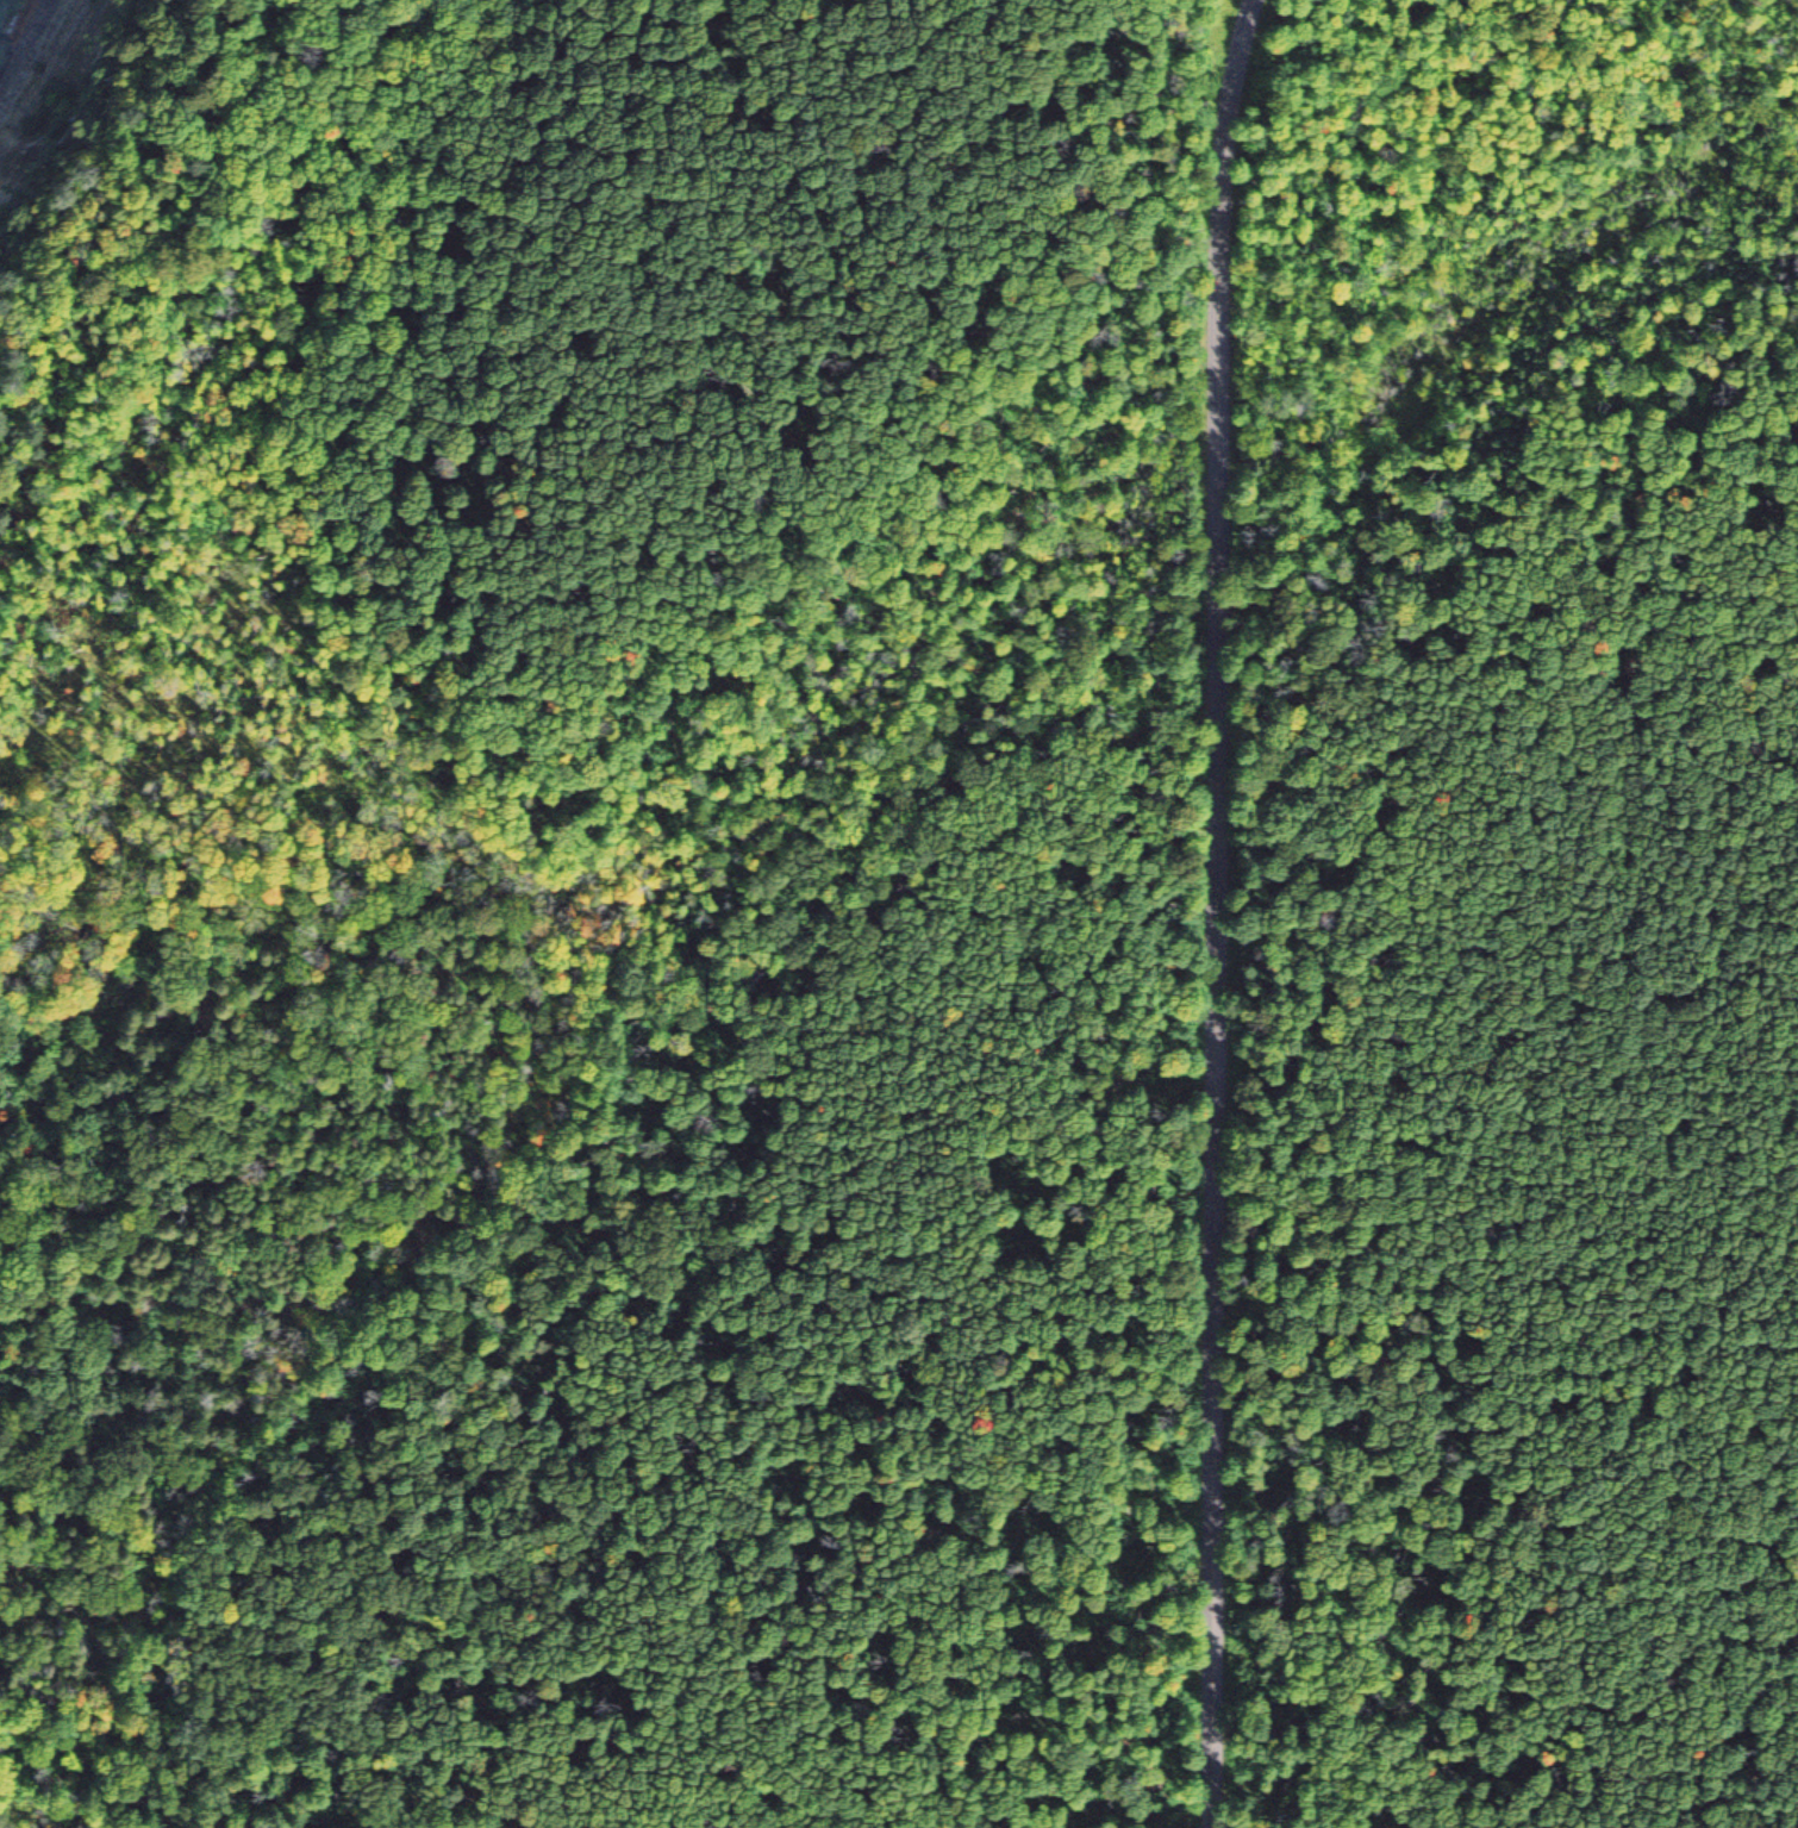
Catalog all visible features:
road: (466, 227)
road: (141, 311)
road: (1224, 911)

